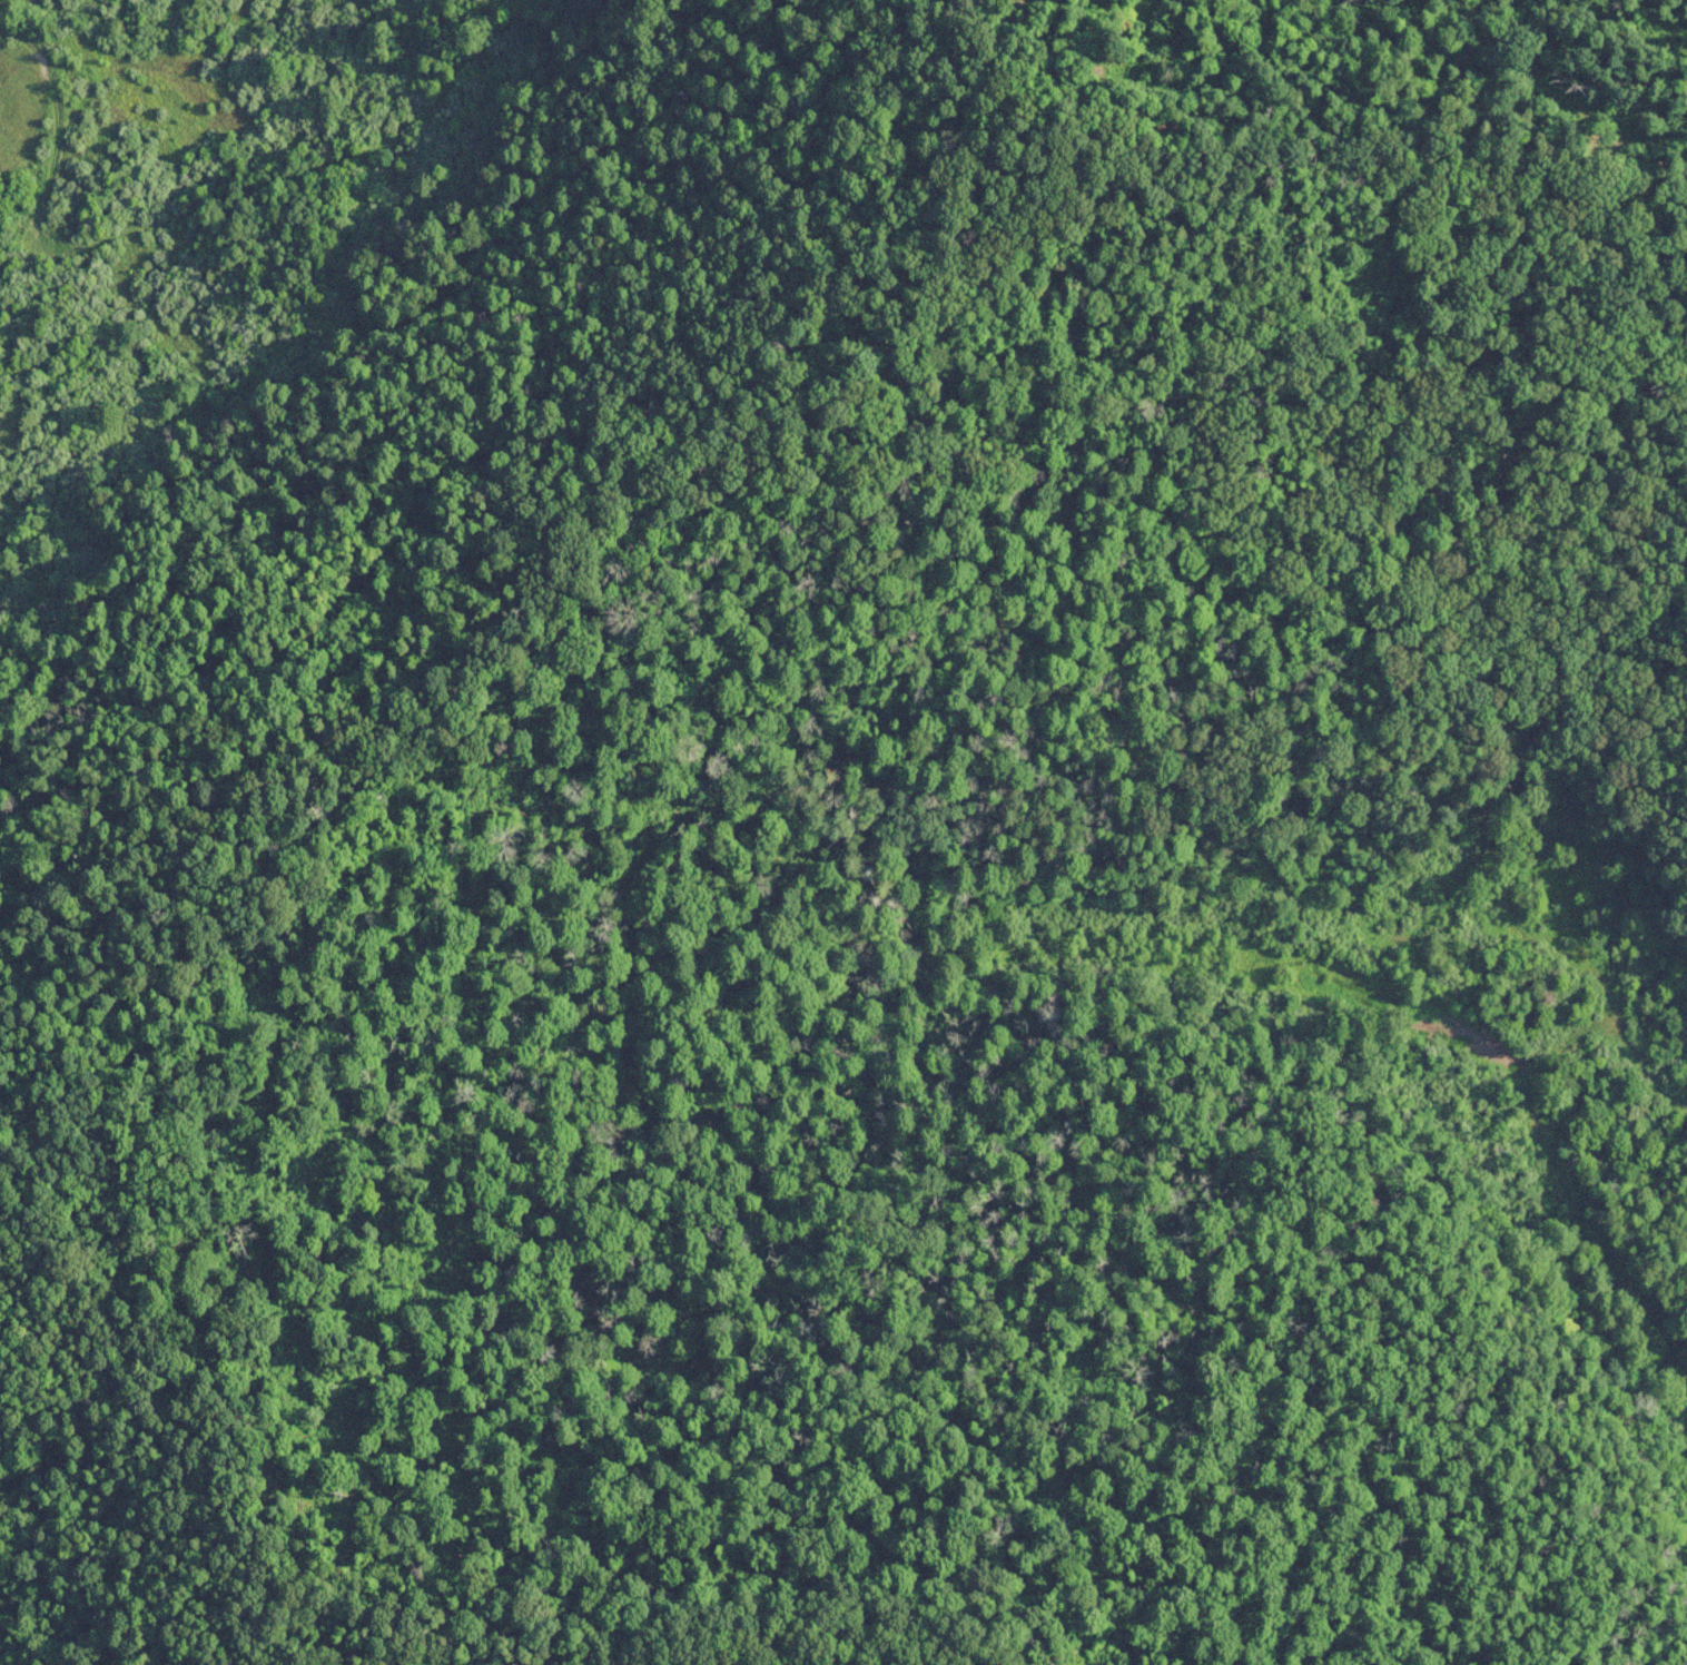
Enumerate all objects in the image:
road: (1511, 1031)

